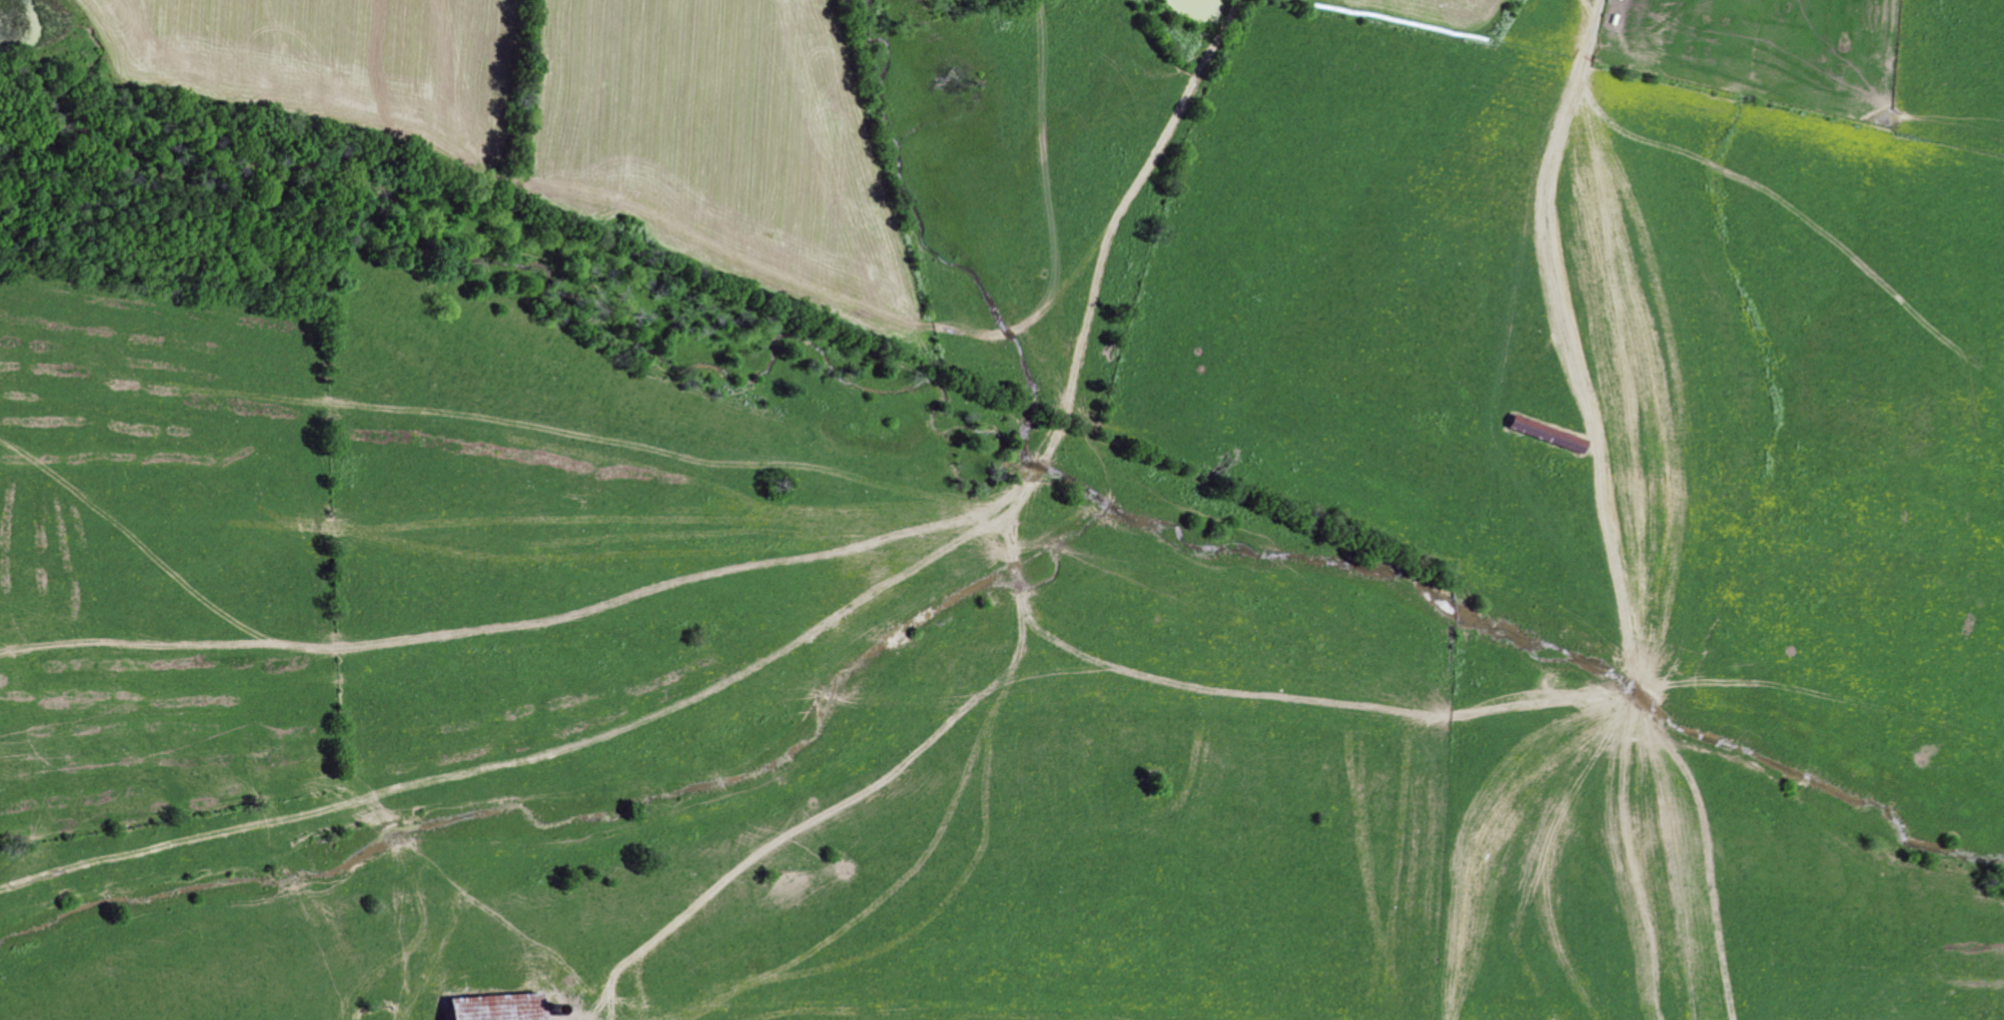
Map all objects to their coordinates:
road: (1475, 851)
road: (1667, 887)
road: (340, 993)
building: (492, 1007)

